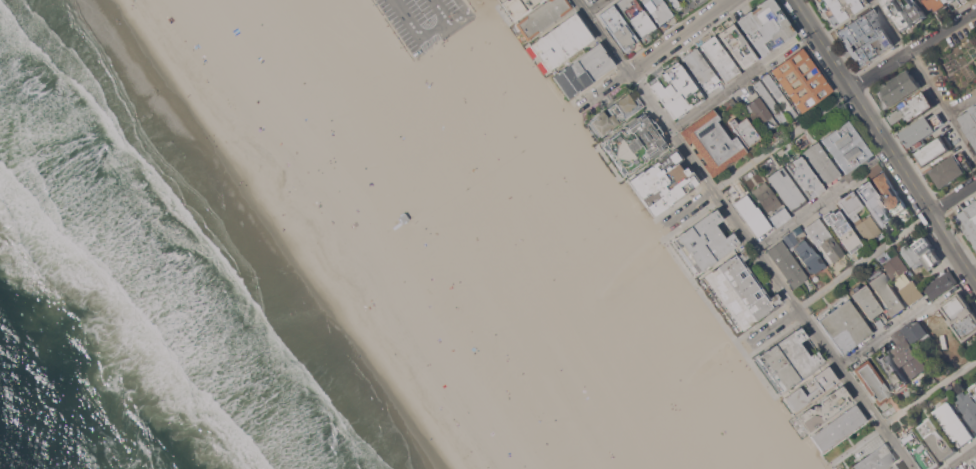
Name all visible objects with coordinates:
building: (588, 0)
building: (697, 1)
building: (946, 1)
building: (949, 1)
building: (935, 3)
building: (678, 5)
building: (517, 6)
road: (595, 6)
building: (840, 8)
building: (916, 9)
building: (657, 10)
road: (458, 12)
building: (899, 14)
building: (636, 16)
building: (543, 17)
parking lot: (423, 21)
building: (765, 26)
building: (618, 27)
road: (426, 33)
building: (562, 40)
building: (881, 40)
building: (737, 45)
road: (914, 47)
road: (654, 52)
building: (719, 58)
building: (583, 69)
building: (701, 69)
road: (924, 78)
road: (742, 80)
building: (801, 80)
building: (898, 89)
building: (676, 90)
building: (779, 96)
building: (771, 103)
building: (730, 105)
road: (962, 105)
building: (914, 108)
building: (974, 109)
building: (761, 113)
building: (614, 114)
building: (970, 125)
building: (921, 130)
building: (745, 131)
road: (783, 140)
road: (885, 140)
building: (635, 142)
building: (712, 143)
building: (846, 147)
building: (934, 150)
building: (821, 163)
building: (951, 169)
building: (804, 177)
building: (662, 182)
park: (537, 188)
building: (787, 189)
building: (889, 192)
road: (954, 197)
building: (771, 203)
building: (874, 203)
road: (689, 208)
building: (752, 215)
road: (803, 216)
building: (853, 216)
building: (969, 220)
park: (606, 221)
building: (383, 230)
building: (843, 230)
road: (746, 234)
building: (823, 238)
building: (703, 241)
park: (574, 242)
building: (804, 250)
building: (928, 253)
building: (911, 255)
road: (865, 260)
building: (787, 264)
building: (898, 268)
building: (941, 284)
building: (738, 291)
building: (886, 292)
building: (912, 292)
building: (868, 304)
building: (960, 315)
road: (773, 326)
building: (845, 327)
road: (892, 328)
building: (915, 331)
building: (907, 354)
building: (788, 359)
building: (888, 369)
building: (871, 381)
building: (810, 388)
building: (974, 388)
road: (929, 392)
building: (967, 406)
building: (824, 408)
building: (954, 423)
building: (838, 427)
building: (938, 438)
road: (857, 445)
building: (920, 450)
road: (961, 458)
building: (876, 459)
building: (975, 460)
park: (785, 466)
building: (896, 467)

